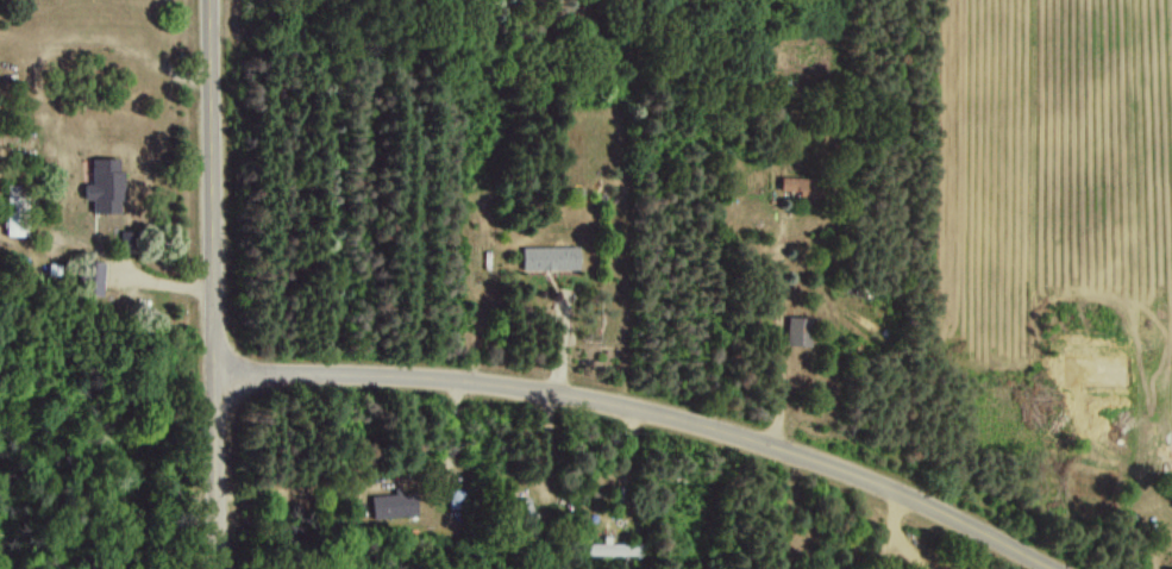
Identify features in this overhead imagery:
building: (105, 185)
building: (797, 185)
building: (15, 208)
building: (550, 257)
road: (319, 267)
building: (92, 276)
road: (211, 284)
building: (798, 330)
road: (785, 344)
road: (644, 414)
road: (997, 494)
building: (393, 502)
road: (886, 533)
building: (613, 548)

